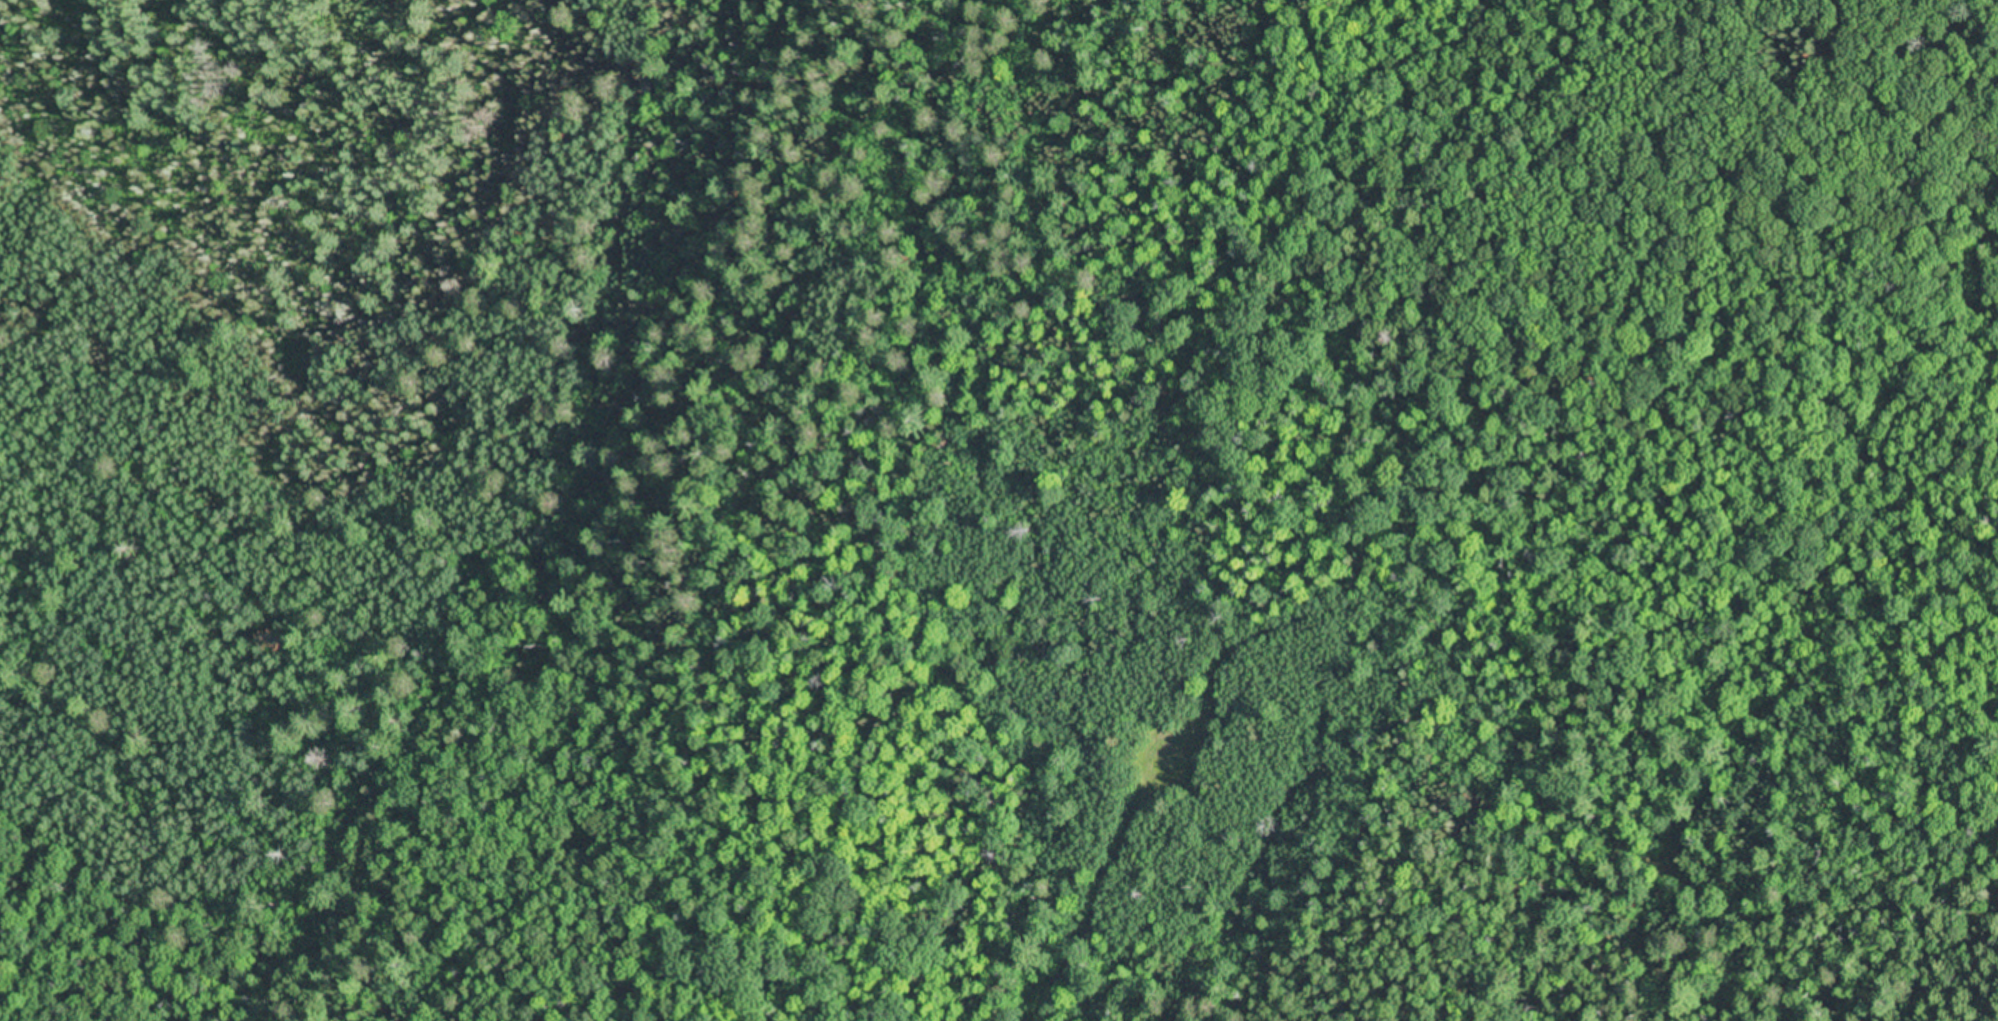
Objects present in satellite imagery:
road: (1183, 754)

